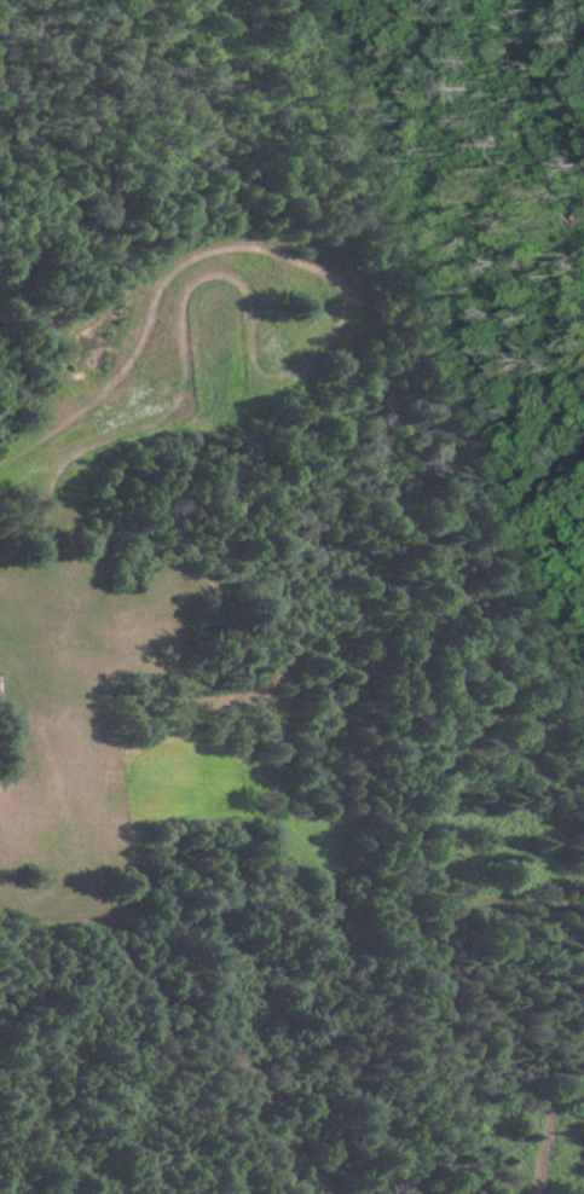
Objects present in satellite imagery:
road: (305, 1114)

